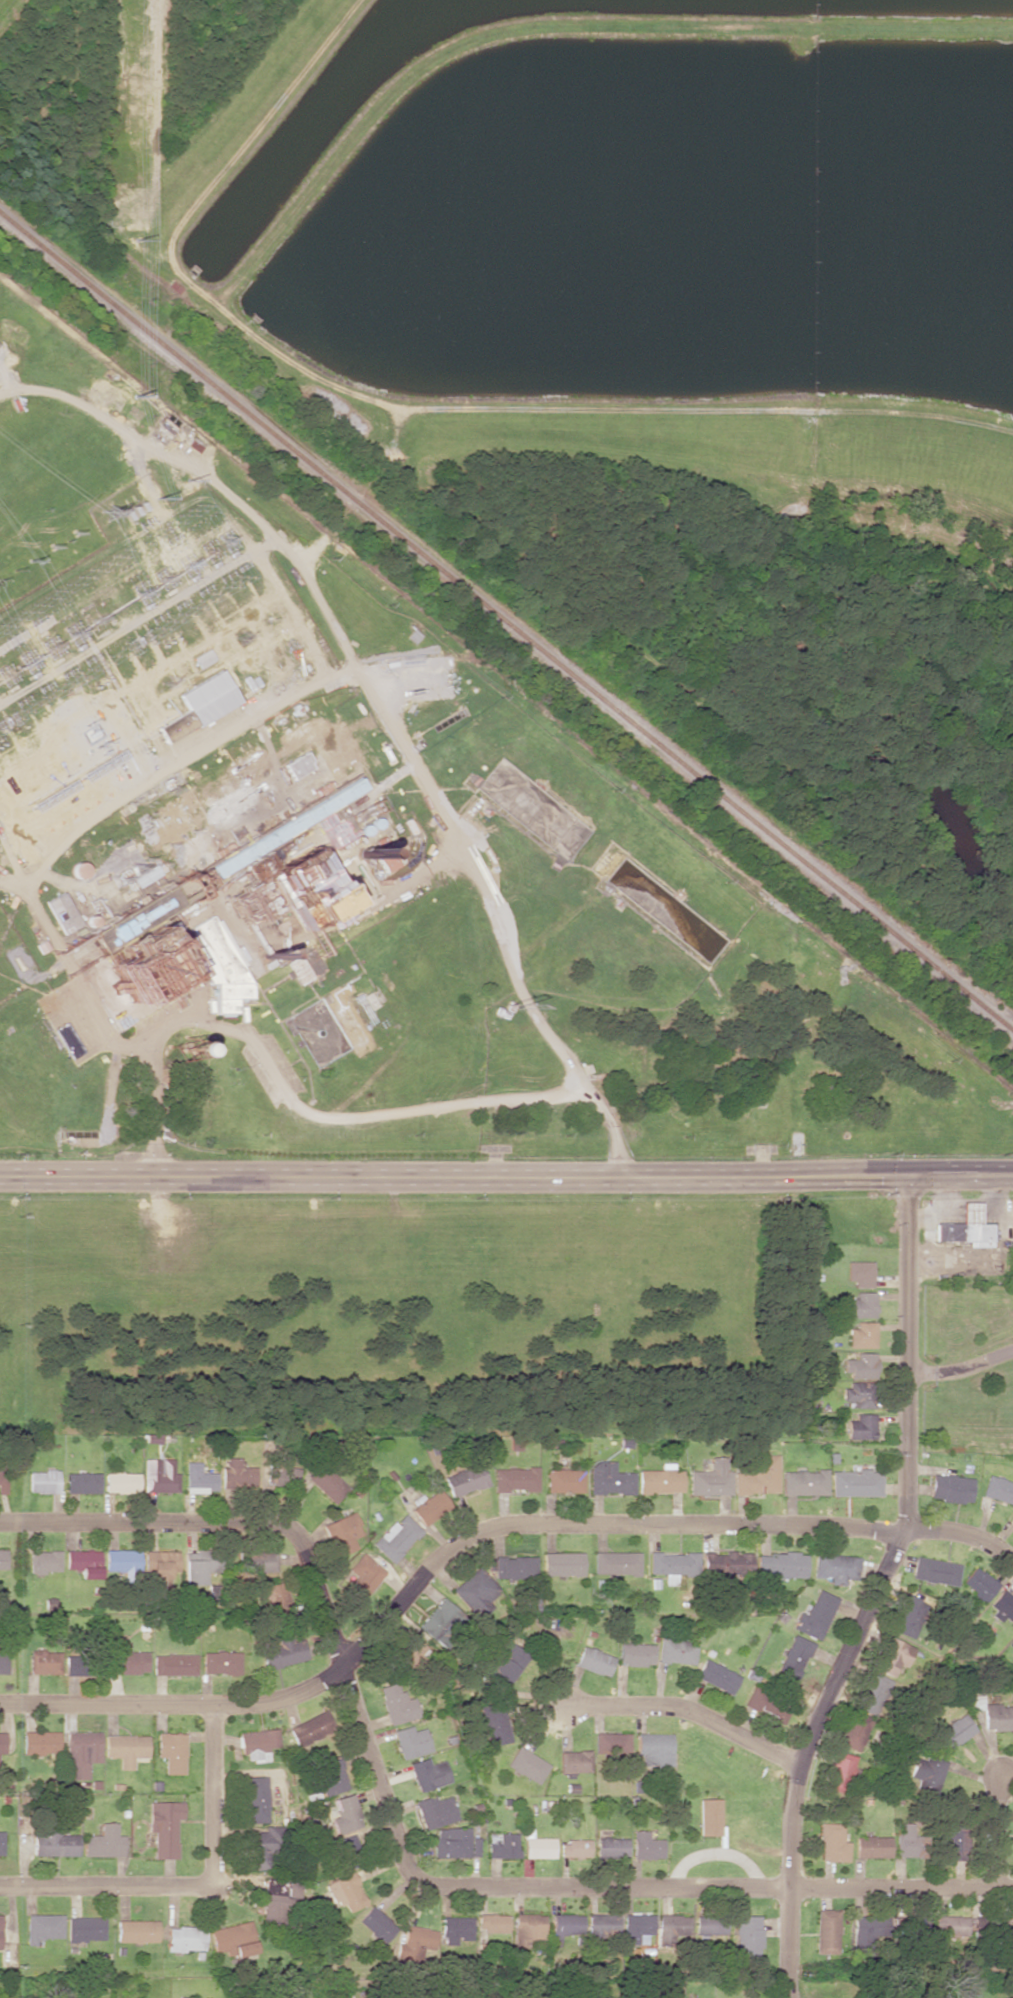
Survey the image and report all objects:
power tower: (135, 228)
power tower: (138, 398)
power tower: (107, 512)
power tower: (29, 561)
power substation: (116, 596)
railway: (504, 628)
building: (208, 697)
road: (382, 711)
building: (175, 725)
building: (298, 765)
building: (226, 807)
building: (255, 853)
building: (392, 863)
building: (62, 912)
building: (221, 965)
building: (304, 965)
building: (140, 971)
road: (256, 1049)
traffic signals: (906, 1173)
road: (506, 1174)
building: (966, 1227)
building: (860, 1273)
building: (862, 1305)
building: (863, 1335)
building: (862, 1366)
road: (960, 1367)
building: (860, 1393)
building: (862, 1427)
building: (236, 1474)
building: (159, 1475)
building: (283, 1476)
building: (758, 1476)
building: (198, 1477)
building: (3, 1478)
building: (711, 1478)
building: (515, 1479)
building: (609, 1479)
building: (660, 1479)
building: (466, 1480)
building: (43, 1481)
building: (564, 1481)
building: (81, 1482)
building: (121, 1482)
building: (804, 1482)
building: (856, 1482)
building: (328, 1484)
building: (951, 1488)
building: (998, 1489)
building: (430, 1507)
building: (1011, 1519)
road: (475, 1528)
building: (343, 1533)
building: (396, 1537)
building: (3, 1559)
building: (121, 1560)
building: (44, 1561)
building: (83, 1562)
building: (259, 1562)
building: (562, 1563)
building: (616, 1563)
building: (780, 1564)
building: (673, 1565)
building: (727, 1565)
building: (162, 1566)
building: (513, 1567)
building: (835, 1567)
building: (935, 1570)
building: (193, 1572)
building: (363, 1576)
building: (980, 1583)
building: (475, 1591)
road: (874, 1591)
building: (277, 1598)
building: (1003, 1606)
building: (908, 1614)
building: (815, 1615)
building: (437, 1618)
building: (677, 1650)
building: (284, 1652)
building: (408, 1653)
building: (635, 1654)
building: (891, 1656)
building: (3, 1657)
building: (793, 1657)
building: (127, 1659)
building: (44, 1661)
building: (594, 1661)
building: (221, 1662)
building: (71, 1663)
building: (174, 1664)
building: (507, 1665)
building: (716, 1676)
building: (872, 1693)
building: (765, 1703)
building: (397, 1704)
road: (683, 1707)
building: (998, 1716)
building: (494, 1723)
building: (310, 1729)
building: (854, 1730)
building: (954, 1732)
building: (411, 1741)
building: (39, 1742)
building: (611, 1743)
building: (258, 1744)
building: (125, 1748)
building: (654, 1748)
building: (1, 1749)
building: (172, 1751)
building: (82, 1752)
building: (574, 1761)
building: (526, 1765)
building: (931, 1771)
building: (839, 1772)
building: (428, 1774)
building: (332, 1775)
building: (256, 1799)
building: (434, 1810)
building: (345, 1814)
building: (708, 1816)
building: (165, 1827)
road: (997, 1835)
building: (907, 1841)
building: (53, 1842)
building: (104, 1842)
building: (453, 1842)
building: (953, 1842)
building: (1, 1843)
building: (832, 1843)
road: (399, 1845)
building: (644, 1845)
building: (502, 1846)
building: (536, 1846)
building: (871, 1846)
building: (610, 1847)
building: (573, 1849)
building: (259, 1850)
road: (197, 1886)
building: (346, 1891)
building: (273, 1899)
building: (491, 1923)
building: (377, 1924)
building: (564, 1925)
building: (602, 1925)
building: (672, 1925)
building: (710, 1926)
building: (949, 1926)
building: (87, 1928)
building: (456, 1929)
building: (527, 1929)
building: (0, 1930)
building: (137, 1931)
building: (827, 1931)
building: (868, 1931)
building: (1012, 1934)
building: (748, 1935)
building: (186, 1938)
building: (235, 1939)
building: (415, 1943)
building: (238, 1958)

